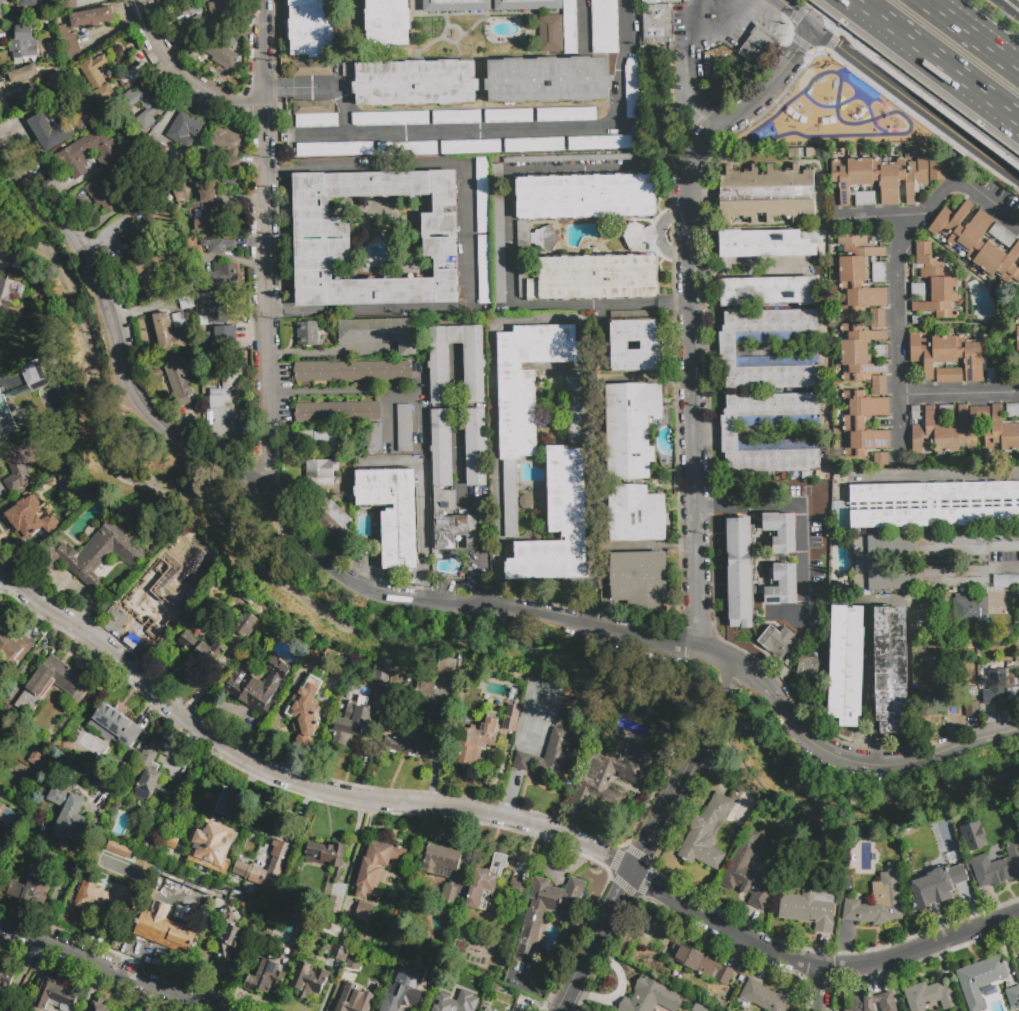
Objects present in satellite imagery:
building: (69, 1)
building: (27, 3)
building: (455, 5)
building: (526, 5)
building: (1, 6)
road: (698, 7)
road: (1008, 8)
building: (217, 9)
road: (796, 13)
building: (91, 17)
building: (388, 22)
building: (655, 22)
road: (586, 24)
road: (724, 25)
building: (569, 26)
building: (604, 26)
building: (193, 27)
building: (311, 28)
building: (24, 32)
building: (550, 33)
road: (969, 36)
building: (68, 43)
building: (757, 46)
building: (23, 48)
building: (224, 57)
road: (935, 61)
road: (883, 64)
building: (312, 69)
road: (183, 72)
road: (695, 75)
building: (97, 79)
building: (547, 79)
building: (415, 83)
building: (25, 84)
building: (675, 86)
road: (322, 88)
building: (632, 88)
road: (917, 100)
building: (147, 106)
building: (63, 107)
building: (315, 114)
building: (508, 115)
building: (566, 115)
building: (457, 117)
building: (82, 119)
building: (390, 119)
building: (183, 127)
road: (522, 128)
building: (50, 131)
road: (978, 135)
building: (226, 141)
building: (603, 143)
building: (534, 145)
building: (471, 147)
building: (335, 149)
building: (407, 149)
building: (86, 153)
building: (790, 153)
building: (812, 153)
road: (965, 158)
building: (230, 172)
building: (885, 178)
building: (108, 184)
building: (180, 193)
building: (766, 193)
building: (482, 196)
building: (585, 197)
road: (988, 198)
building: (207, 212)
road: (864, 215)
building: (962, 227)
building: (498, 233)
road: (509, 235)
road: (465, 236)
building: (322, 237)
building: (137, 239)
building: (542, 239)
building: (764, 244)
building: (218, 245)
road: (266, 247)
building: (998, 253)
building: (525, 262)
building: (484, 269)
building: (152, 276)
building: (219, 276)
building: (598, 278)
building: (933, 286)
building: (770, 290)
building: (10, 292)
building: (188, 303)
building: (213, 303)
building: (861, 304)
road: (693, 312)
road: (546, 319)
building: (179, 320)
road: (897, 325)
building: (169, 333)
building: (307, 333)
building: (379, 333)
building: (218, 336)
building: (1017, 338)
road: (116, 339)
building: (618, 345)
building: (727, 348)
building: (880, 352)
road: (330, 353)
building: (950, 356)
building: (353, 371)
building: (439, 373)
building: (949, 375)
building: (178, 379)
building: (225, 381)
road: (343, 389)
building: (23, 391)
road: (418, 397)
building: (524, 398)
building: (572, 409)
building: (1013, 410)
building: (945, 411)
building: (337, 412)
building: (915, 413)
building: (856, 417)
road: (388, 419)
building: (403, 428)
building: (630, 428)
road: (898, 428)
building: (949, 431)
building: (728, 432)
building: (1000, 432)
building: (373, 438)
building: (321, 439)
building: (441, 455)
building: (29, 459)
building: (880, 460)
building: (319, 473)
road: (938, 473)
building: (819, 489)
road: (462, 494)
building: (820, 497)
road: (423, 499)
building: (935, 503)
building: (819, 504)
building: (394, 513)
building: (636, 514)
building: (819, 514)
road: (800, 517)
building: (29, 518)
building: (823, 522)
building: (335, 523)
building: (557, 523)
building: (454, 532)
building: (781, 532)
building: (1003, 541)
building: (814, 548)
building: (91, 555)
building: (167, 555)
building: (863, 561)
road: (1005, 566)
building: (740, 572)
road: (484, 577)
building: (1006, 580)
building: (640, 581)
building: (783, 585)
building: (150, 605)
building: (969, 609)
building: (245, 625)
road: (643, 637)
building: (778, 642)
building: (14, 646)
building: (201, 653)
building: (318, 659)
building: (846, 664)
building: (891, 669)
building: (810, 670)
road: (732, 677)
building: (381, 678)
building: (435, 679)
building: (55, 680)
building: (255, 684)
building: (991, 684)
building: (933, 703)
building: (305, 708)
building: (970, 708)
road: (716, 711)
building: (510, 717)
building: (355, 721)
building: (417, 724)
building: (113, 727)
building: (477, 739)
building: (165, 745)
building: (548, 753)
building: (35, 756)
building: (147, 772)
building: (609, 776)
building: (107, 784)
building: (224, 801)
road: (495, 817)
building: (70, 823)
building: (705, 833)
building: (972, 836)
building: (210, 848)
building: (272, 852)
building: (0, 854)
building: (952, 854)
building: (326, 856)
building: (440, 859)
building: (1, 862)
building: (274, 864)
building: (376, 867)
building: (997, 867)
road: (634, 871)
building: (748, 873)
building: (484, 881)
building: (936, 886)
building: (518, 888)
building: (32, 889)
building: (229, 894)
building: (101, 900)
building: (879, 900)
building: (333, 904)
building: (452, 904)
building: (809, 909)
building: (163, 912)
building: (363, 912)
building: (530, 932)
building: (228, 934)
building: (336, 952)
building: (0, 961)
building: (354, 961)
building: (1018, 961)
building: (701, 964)
road: (107, 967)
road: (21, 974)
building: (267, 977)
building: (309, 981)
building: (981, 981)
building: (5, 982)
road: (817, 988)
building: (403, 990)
building: (929, 996)
building: (1013, 996)
building: (52, 997)
building: (651, 997)
building: (763, 997)
building: (353, 999)
building: (455, 1001)
building: (872, 1003)
building: (97, 1005)
road: (579, 1005)
building: (700, 1007)
building: (508, 1010)

